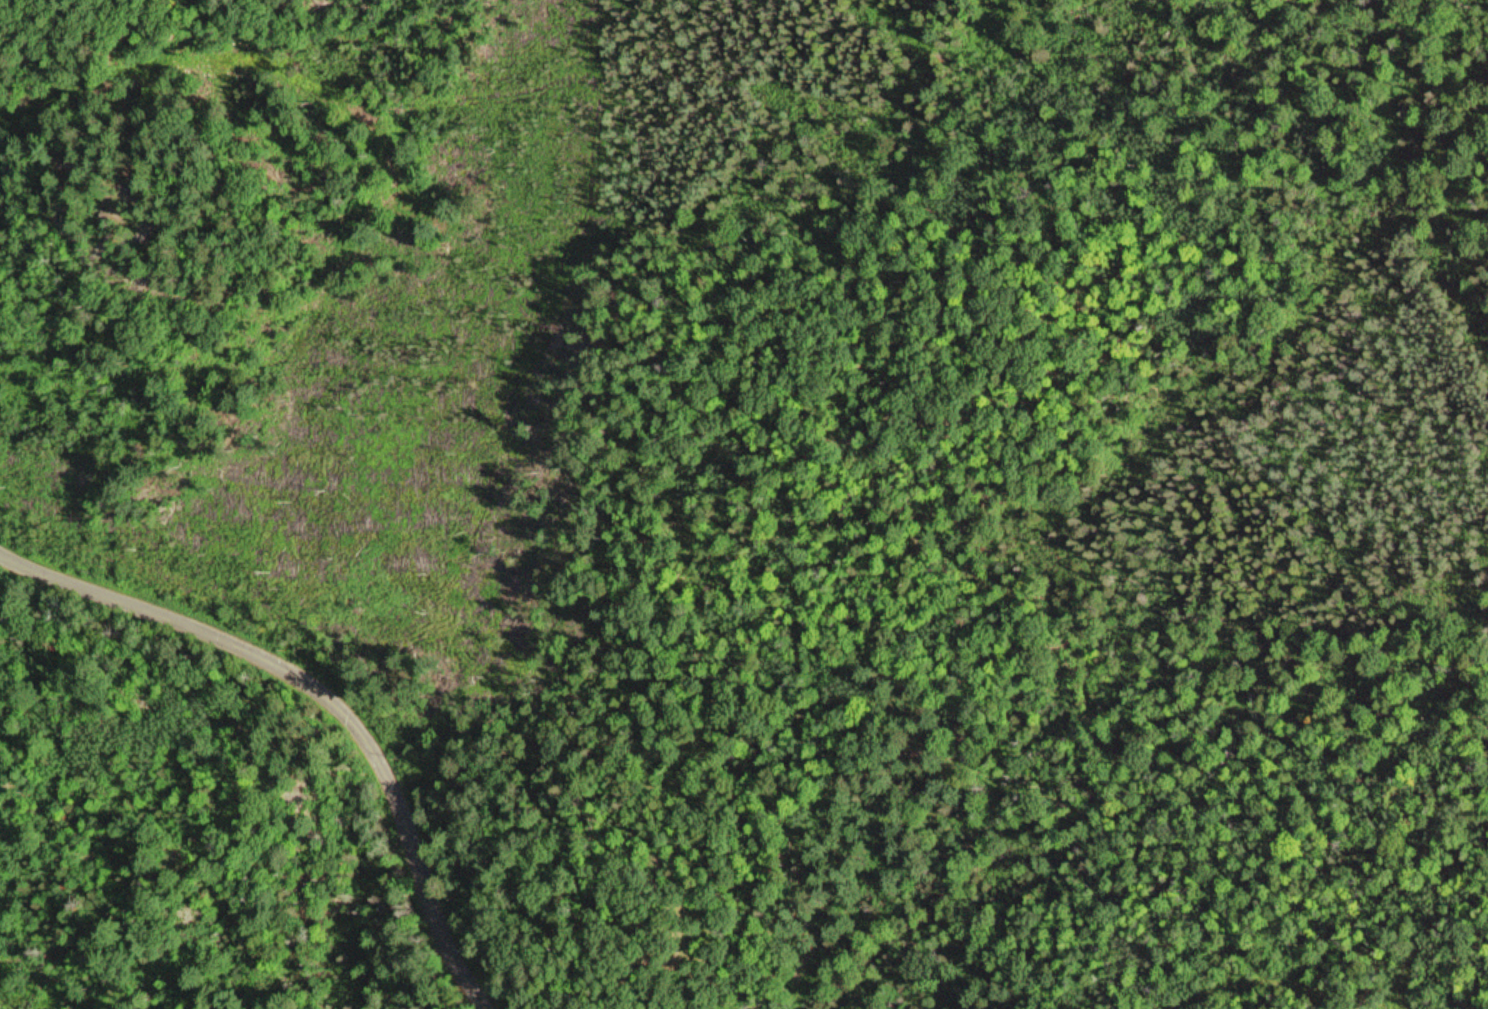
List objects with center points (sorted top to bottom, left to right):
road: (329, 690)

